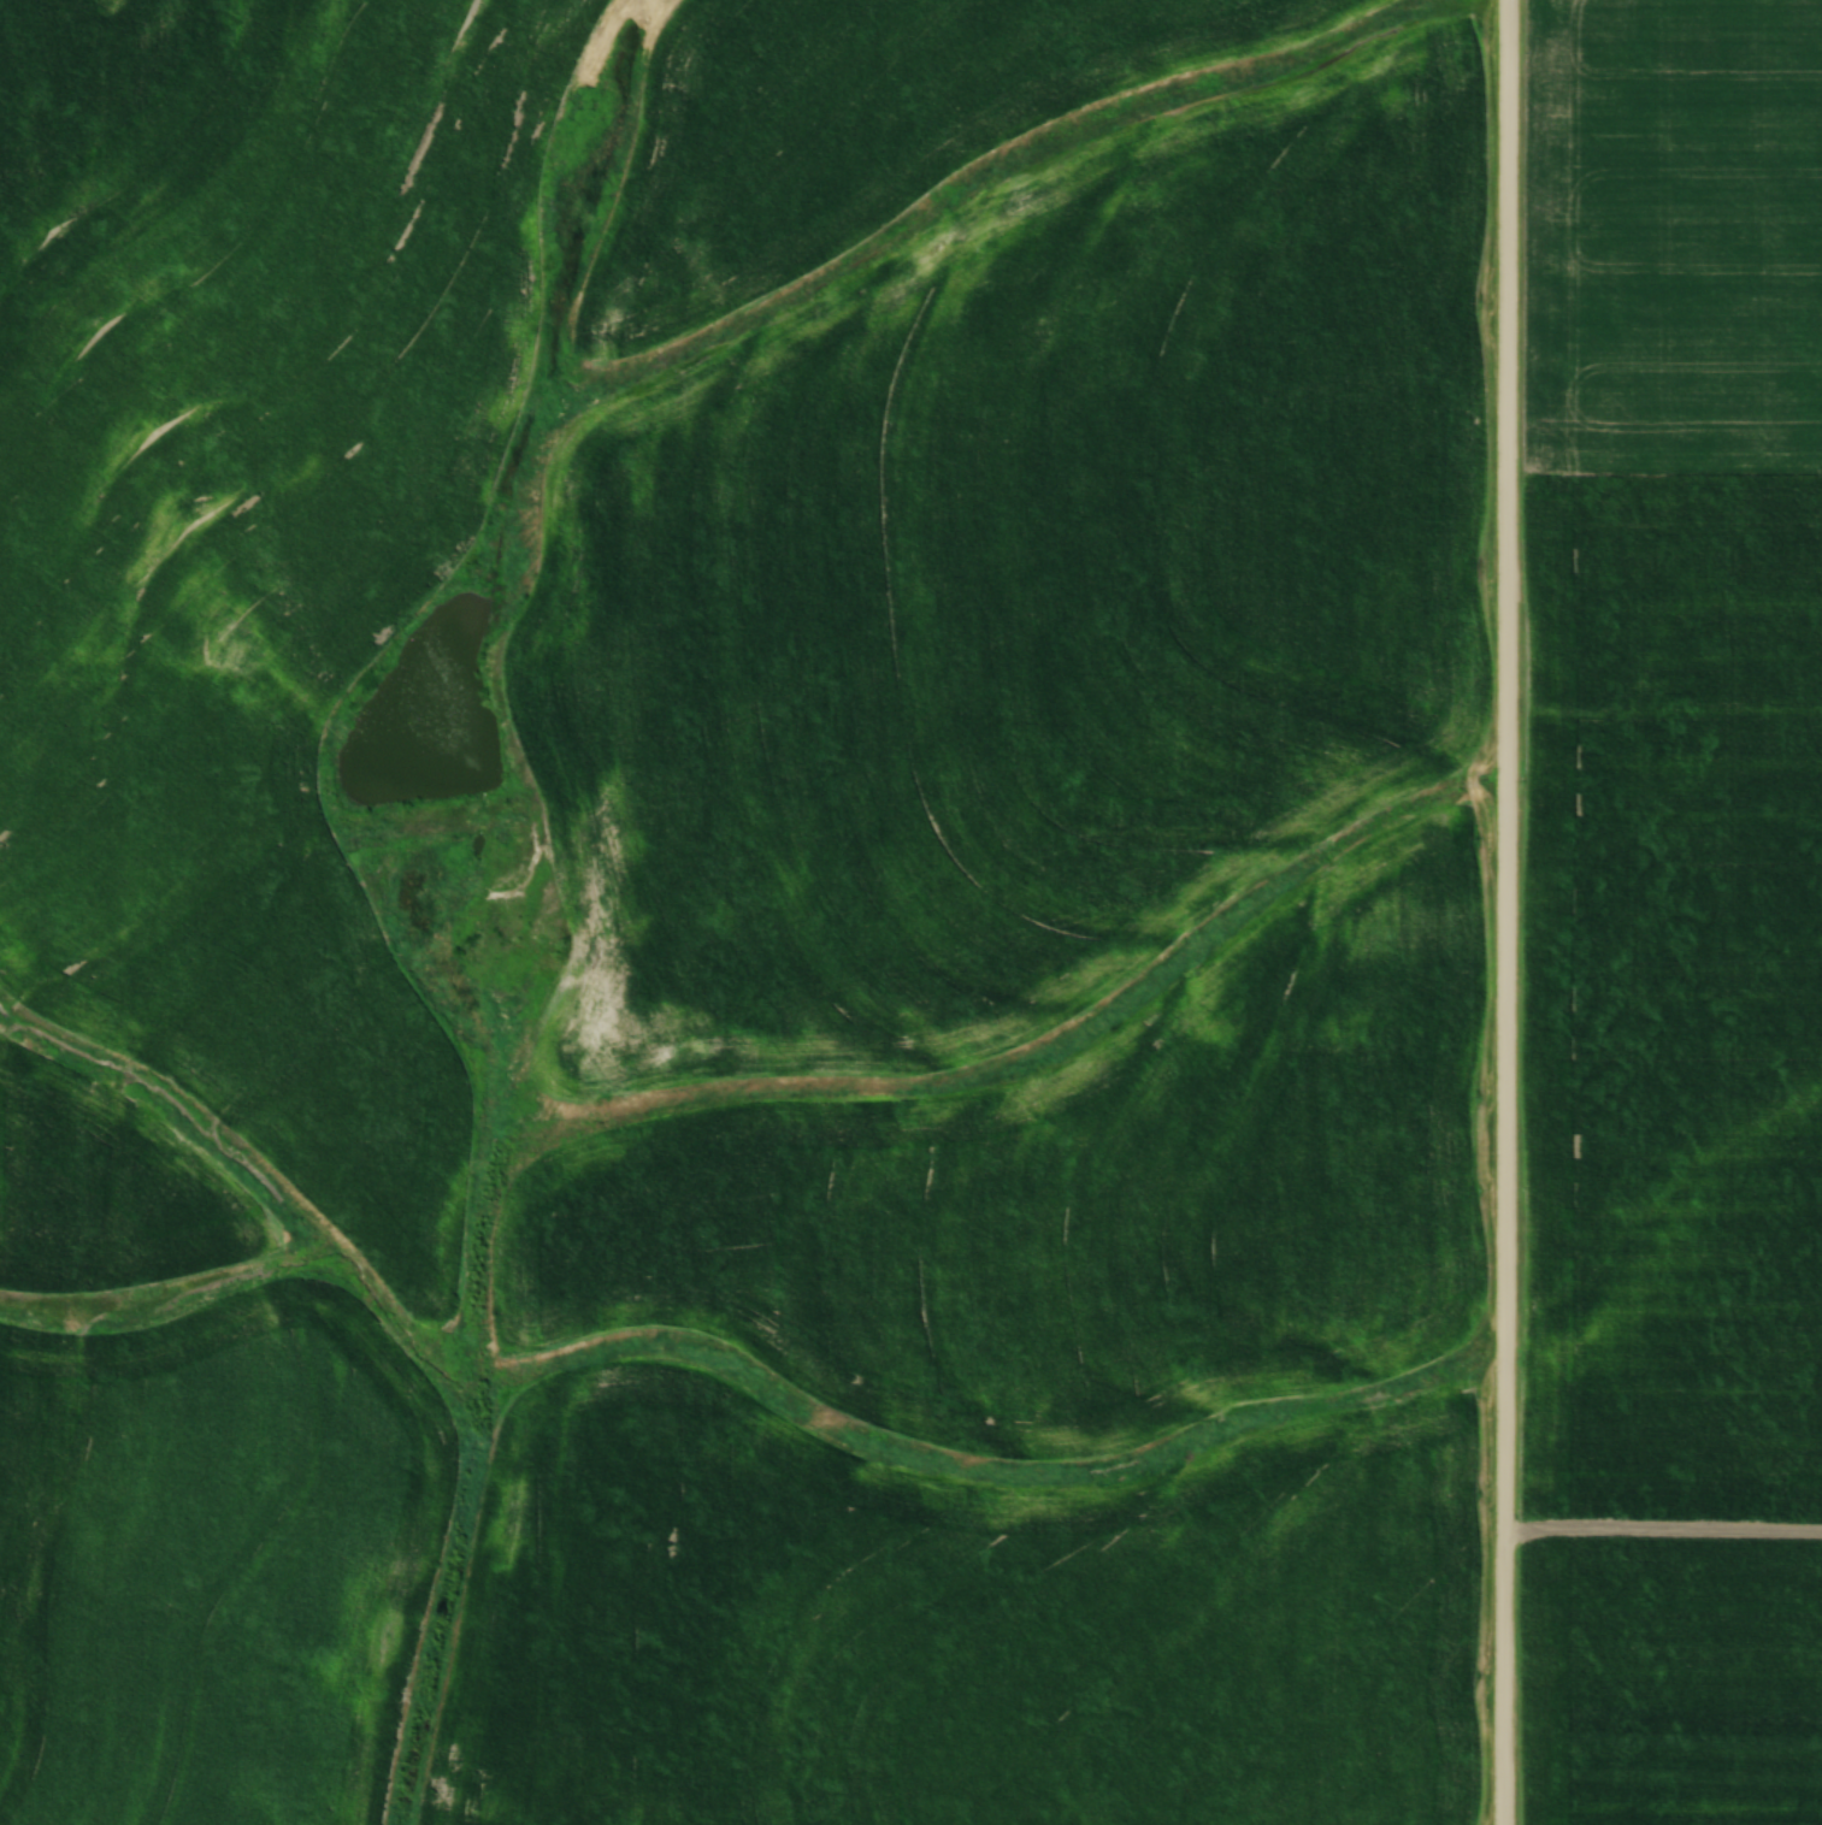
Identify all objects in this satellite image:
road: (1513, 912)

